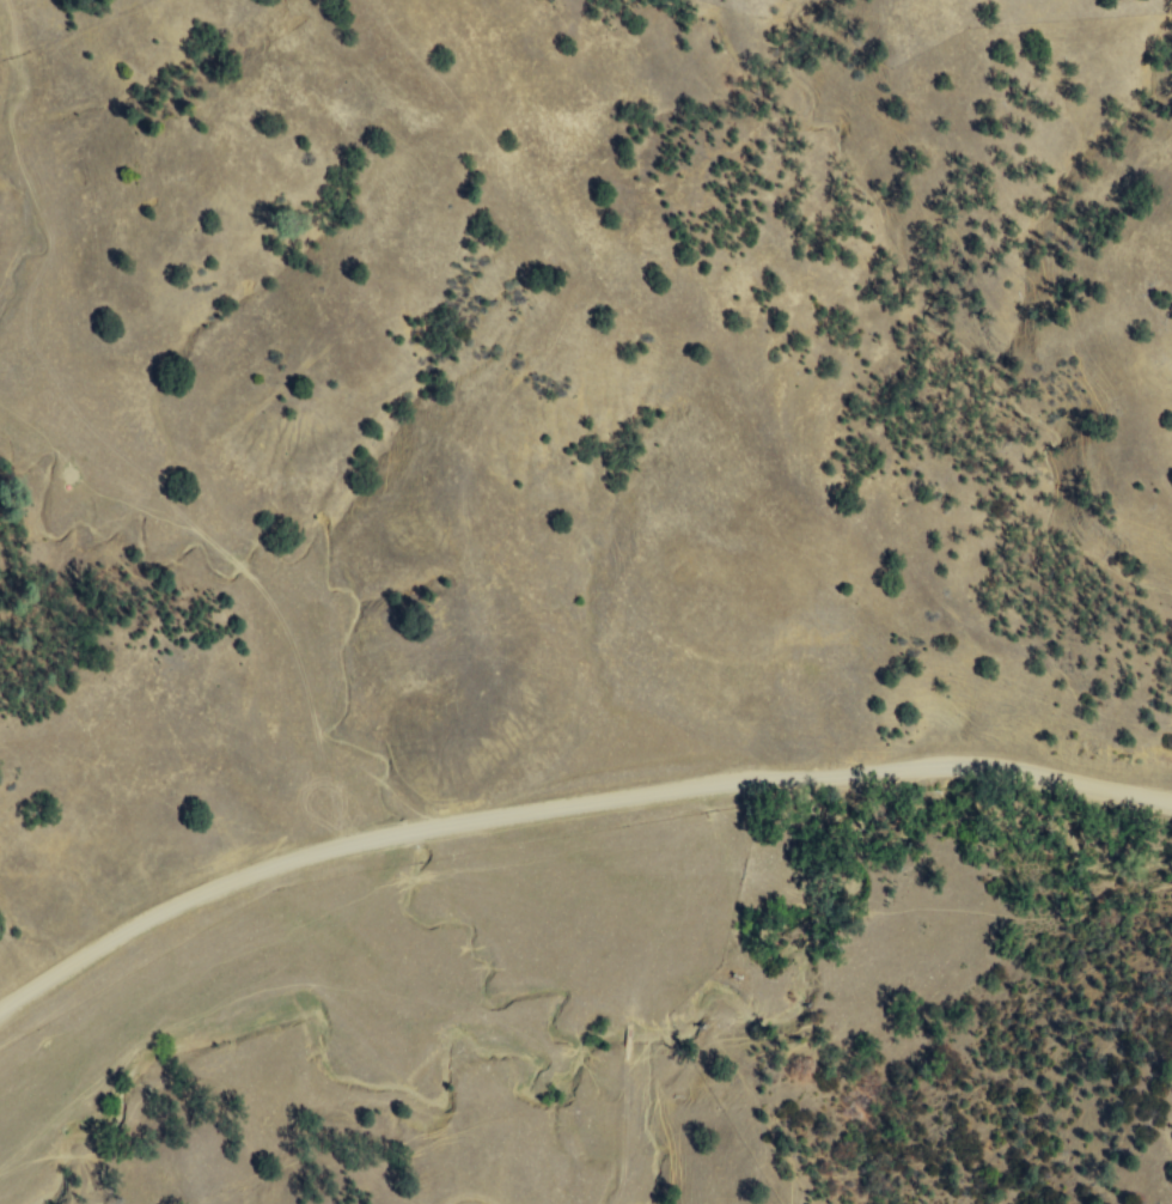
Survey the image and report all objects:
road: (564, 807)

